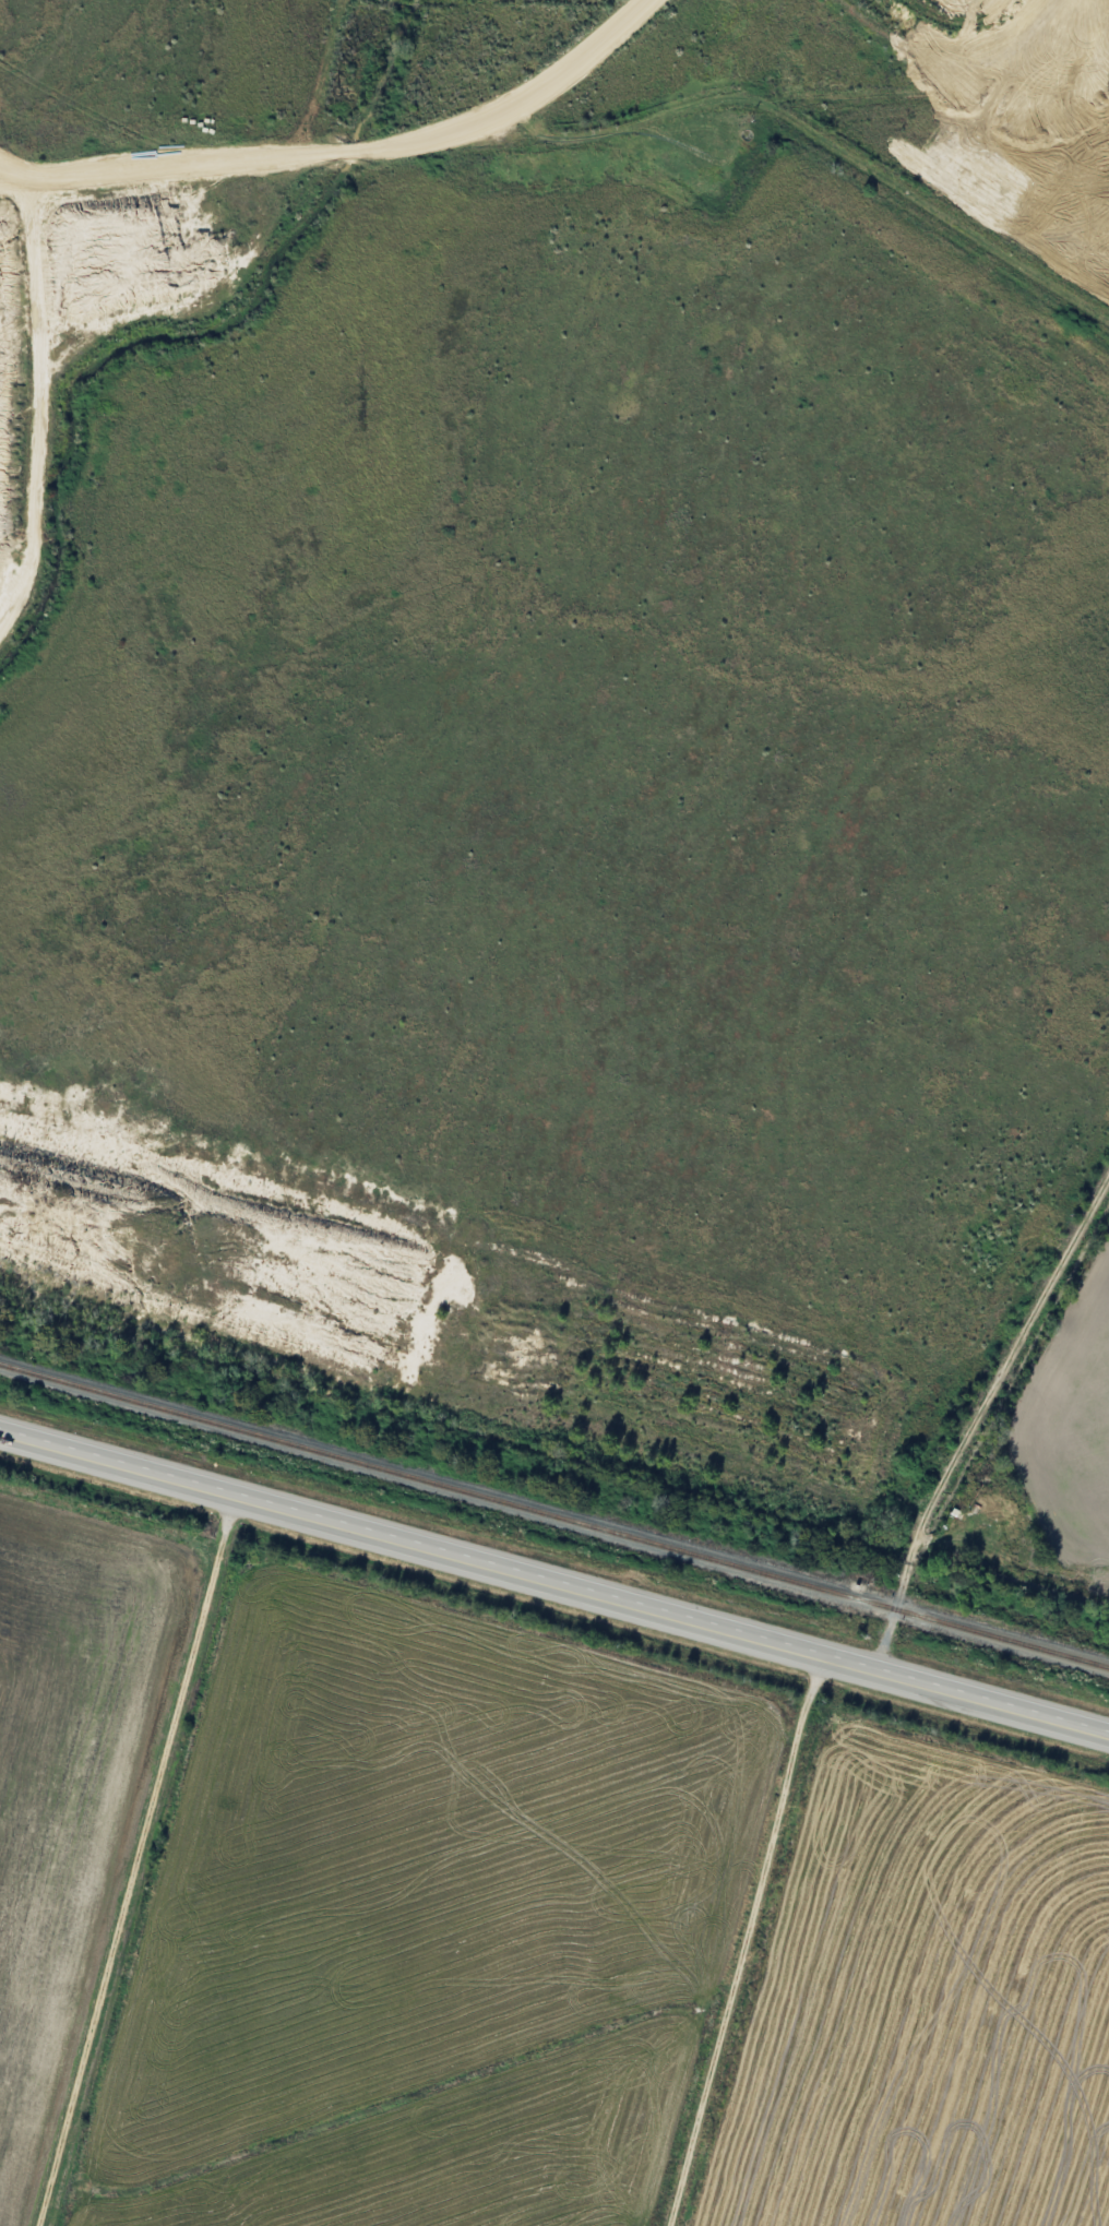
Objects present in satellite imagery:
road: (533, 78)
road: (588, 133)
road: (973, 1419)
railway: (553, 1517)
road: (553, 1581)

